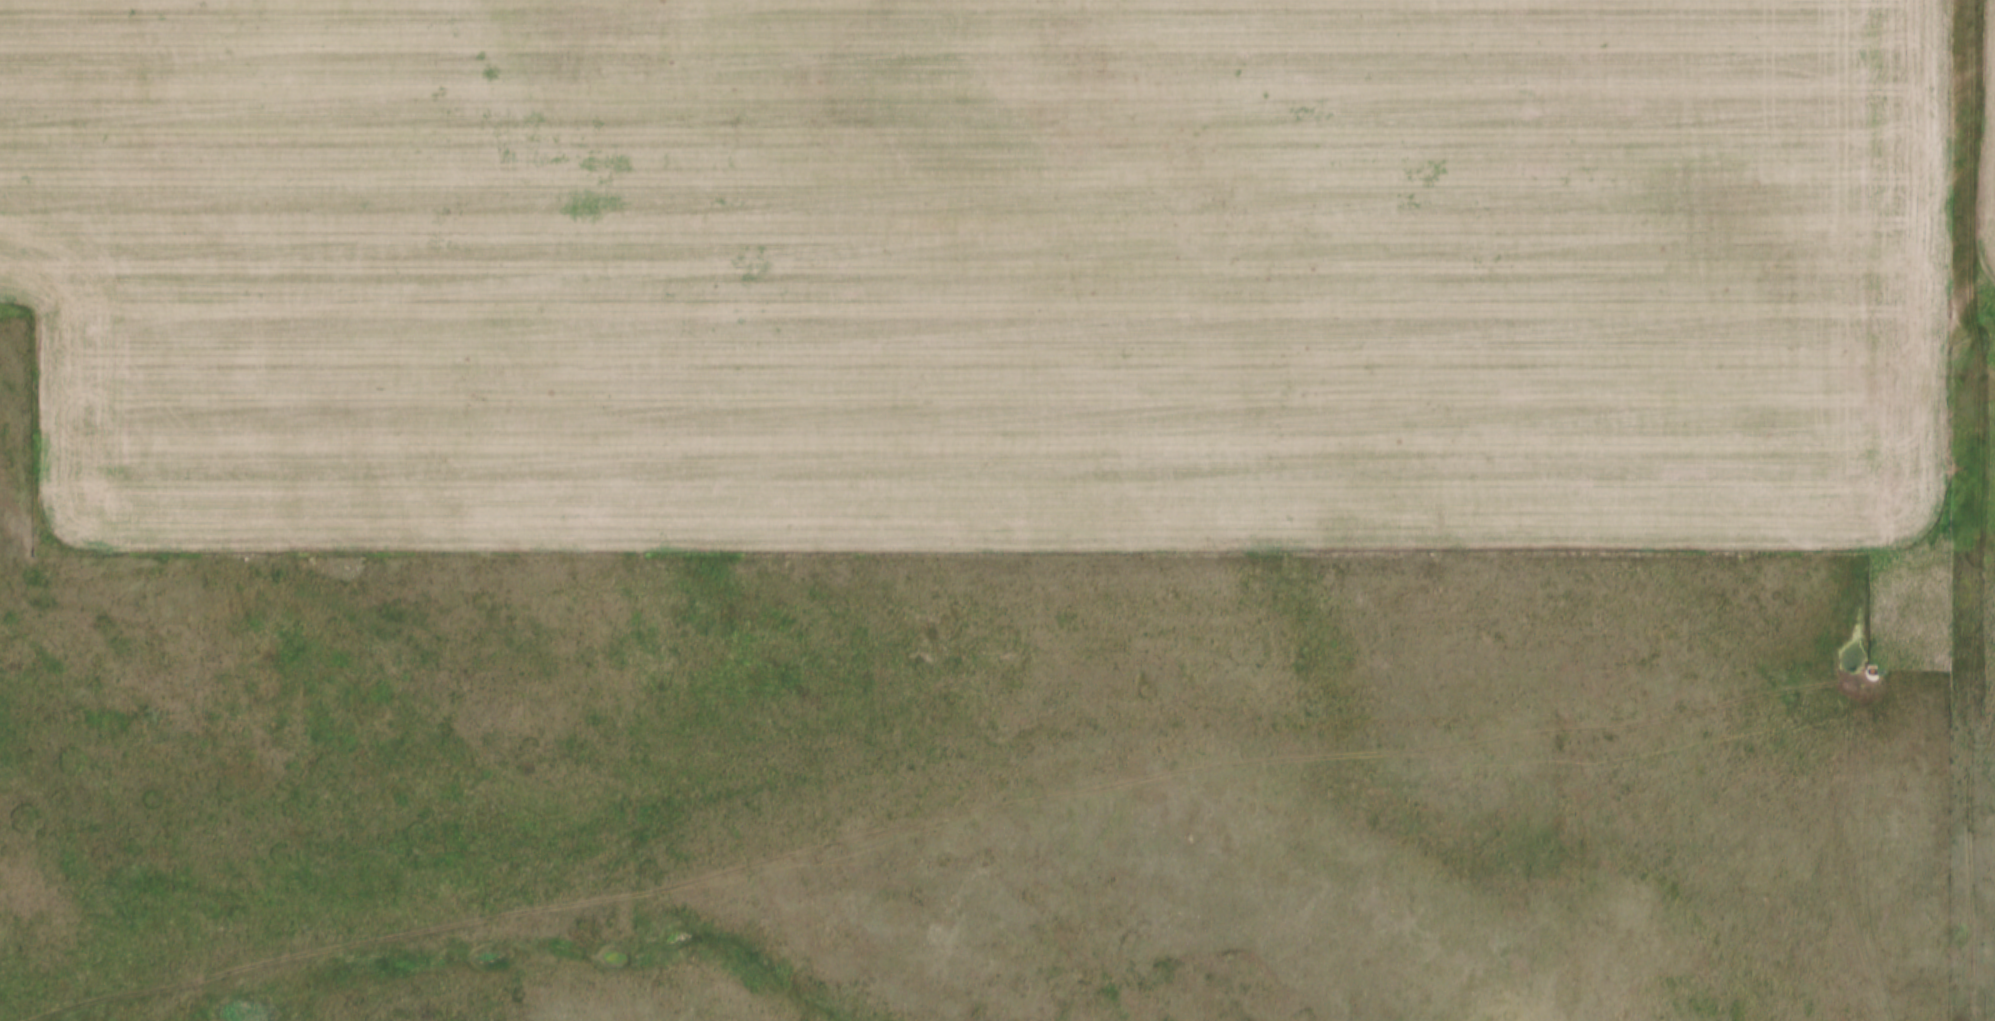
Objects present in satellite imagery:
road: (1974, 2)

